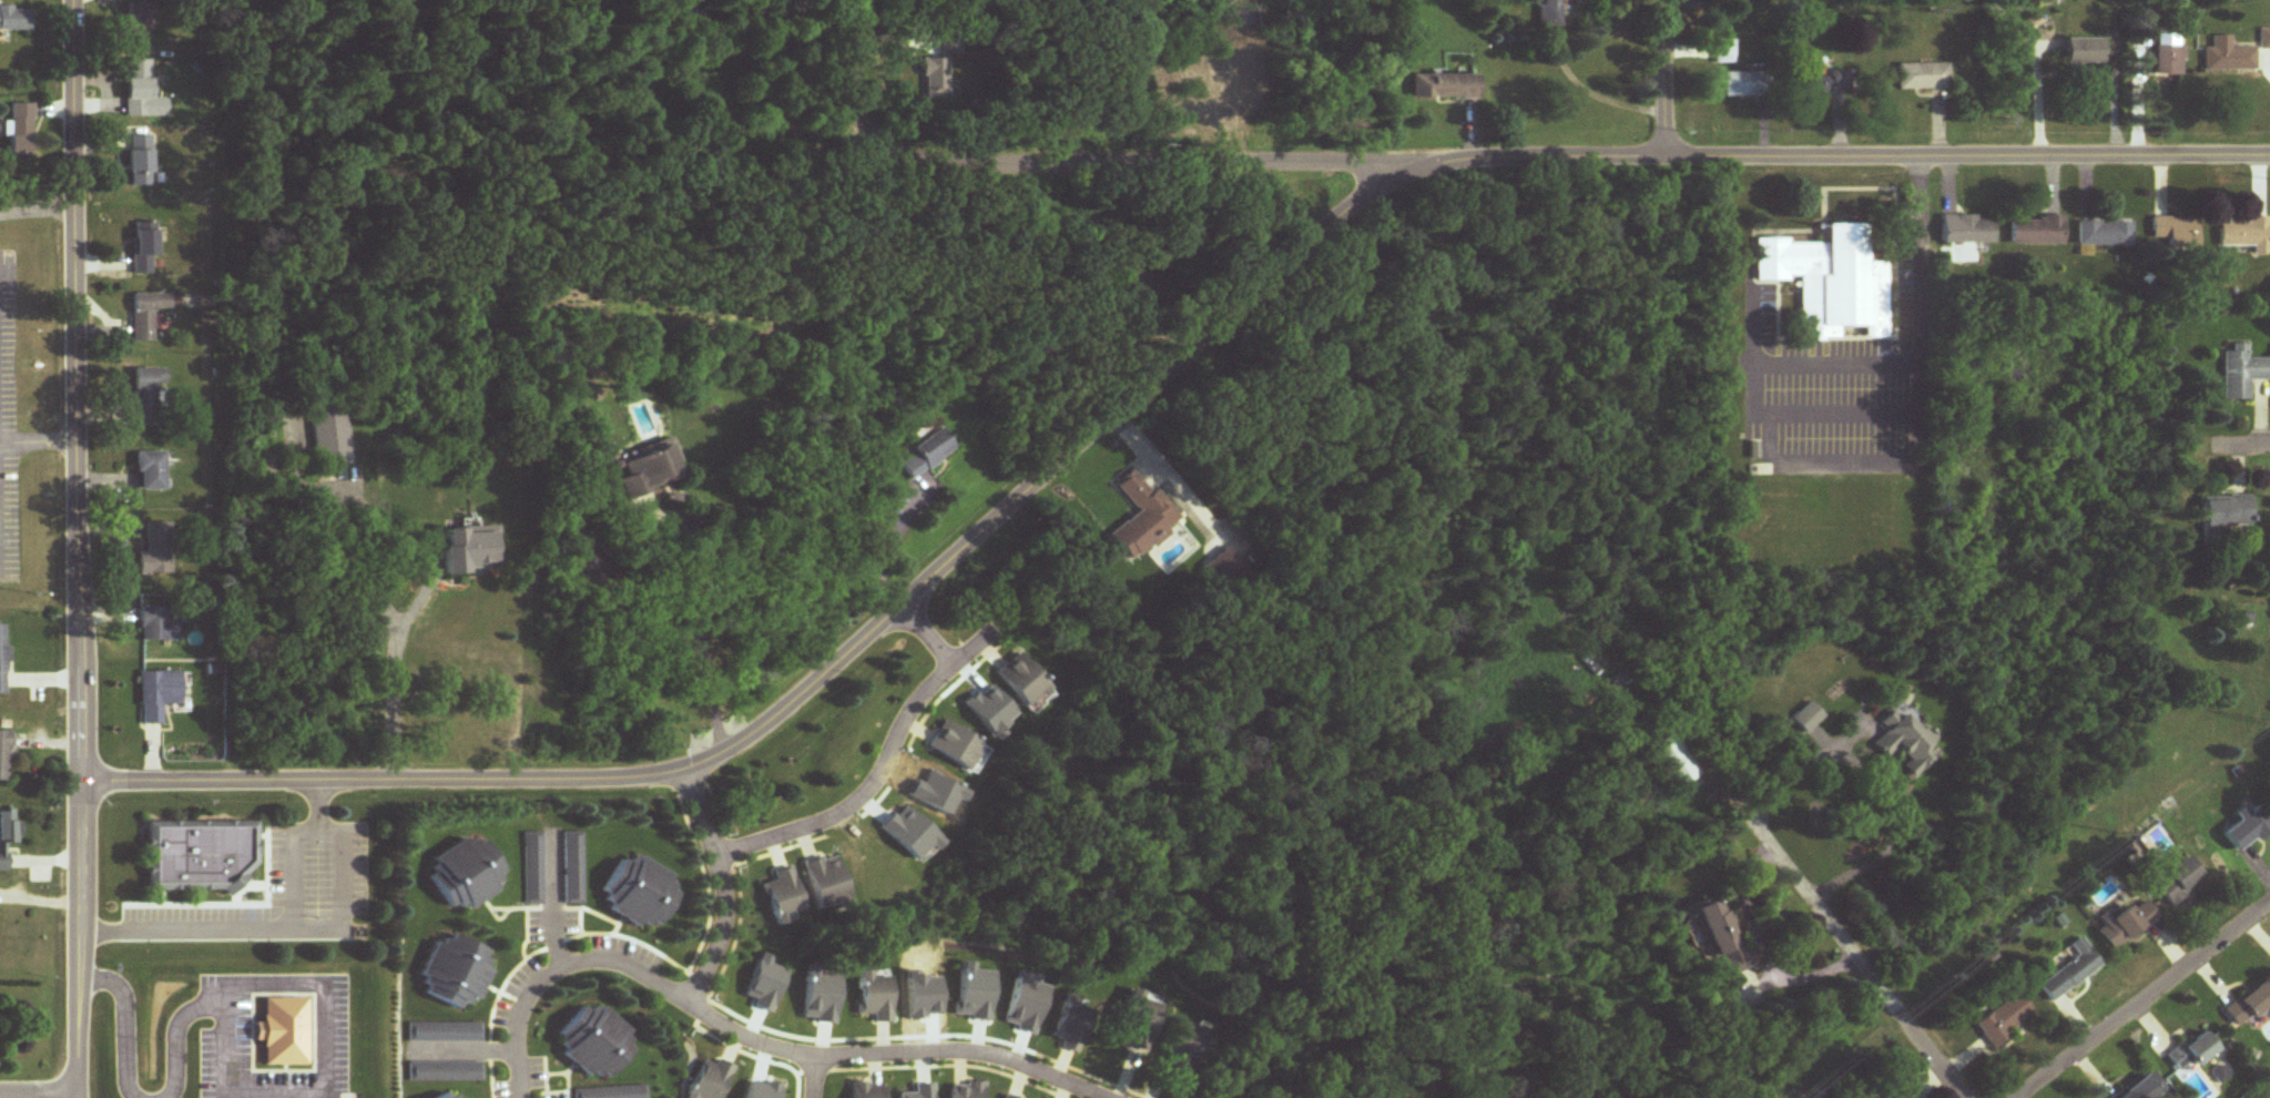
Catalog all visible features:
building: (1554, 13)
building: (140, 19)
building: (14, 21)
building: (2263, 40)
building: (2084, 53)
building: (2227, 58)
building: (2167, 61)
building: (934, 75)
building: (1922, 78)
road: (1665, 80)
building: (1820, 83)
building: (1738, 85)
building: (1445, 89)
building: (143, 94)
building: (21, 129)
road: (1346, 159)
road: (1000, 164)
building: (140, 169)
road: (37, 209)
building: (1965, 228)
building: (2035, 231)
building: (2174, 232)
building: (2103, 234)
building: (2247, 235)
building: (143, 253)
building: (1829, 282)
building: (146, 315)
building: (2241, 373)
road: (1142, 382)
building: (632, 394)
building: (147, 397)
road: (1842, 407)
building: (329, 435)
road: (38, 440)
road: (2248, 448)
building: (924, 454)
road: (1881, 459)
building: (649, 469)
building: (149, 471)
building: (2225, 516)
building: (1141, 517)
road: (682, 528)
road: (887, 540)
road: (75, 548)
building: (470, 550)
building: (155, 551)
building: (1222, 568)
building: (155, 626)
road: (918, 636)
building: (2, 661)
road: (394, 667)
building: (1018, 682)
building: (156, 695)
building: (1805, 719)
building: (1904, 744)
building: (955, 749)
building: (3, 758)
road: (1801, 760)
building: (1671, 762)
road: (877, 773)
road: (1893, 826)
building: (2243, 828)
building: (8, 835)
building: (199, 856)
building: (533, 868)
building: (573, 868)
building: (466, 875)
building: (2177, 882)
building: (825, 883)
road: (724, 886)
building: (640, 894)
building: (783, 897)
road: (39, 902)
road: (552, 902)
road: (293, 925)
building: (2124, 925)
building: (1722, 938)
road: (1856, 955)
road: (560, 972)
building: (456, 973)
road: (1800, 973)
building: (2069, 973)
building: (874, 996)
road: (2146, 1000)
building: (2249, 1005)
road: (124, 1019)
building: (1138, 1020)
building: (2004, 1020)
building: (1069, 1026)
road: (173, 1030)
building: (284, 1033)
building: (445, 1033)
building: (593, 1045)
building: (1182, 1048)
building: (2192, 1053)
road: (894, 1057)
building: (445, 1072)
building: (710, 1079)
road: (808, 1079)
road: (324, 1087)
building: (2145, 1088)
building: (965, 1090)
building: (867, 1091)
building: (608, 1092)
building: (445, 1096)
road: (39, 1097)
building: (462, 1097)
building: (1005, 1097)
building: (1889, 1097)

